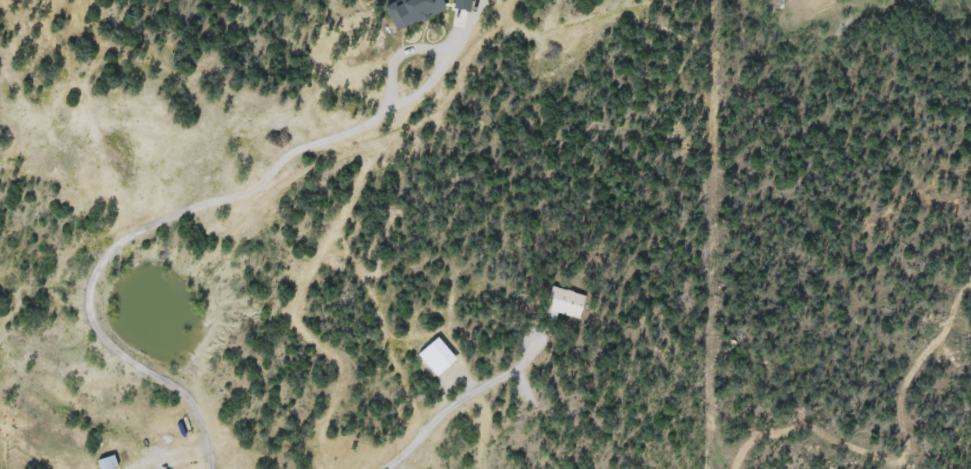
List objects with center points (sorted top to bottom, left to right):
road: (183, 217)
building: (562, 303)
road: (457, 395)

